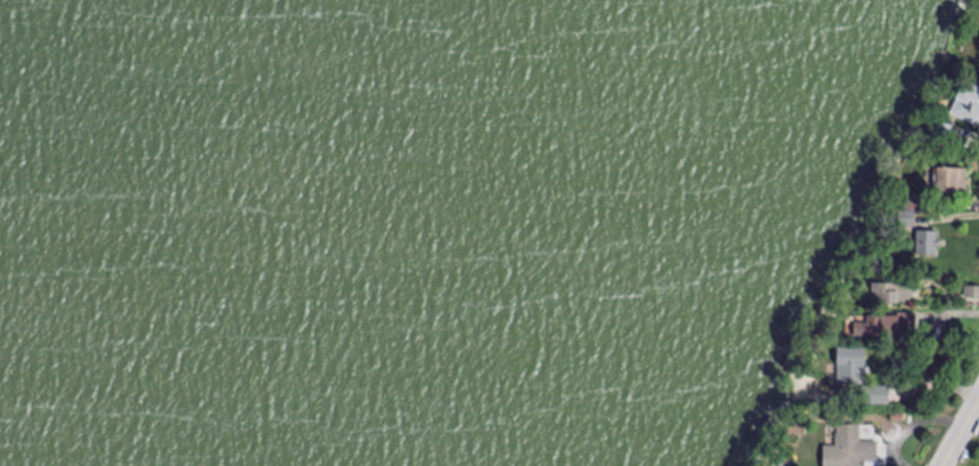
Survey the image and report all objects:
building: (968, 103)
building: (941, 134)
building: (952, 182)
building: (914, 203)
road: (974, 208)
building: (907, 220)
building: (927, 245)
building: (972, 293)
building: (885, 295)
building: (886, 327)
building: (851, 367)
building: (877, 397)
road: (915, 425)
road: (961, 434)
building: (852, 449)
crop: (971, 452)

